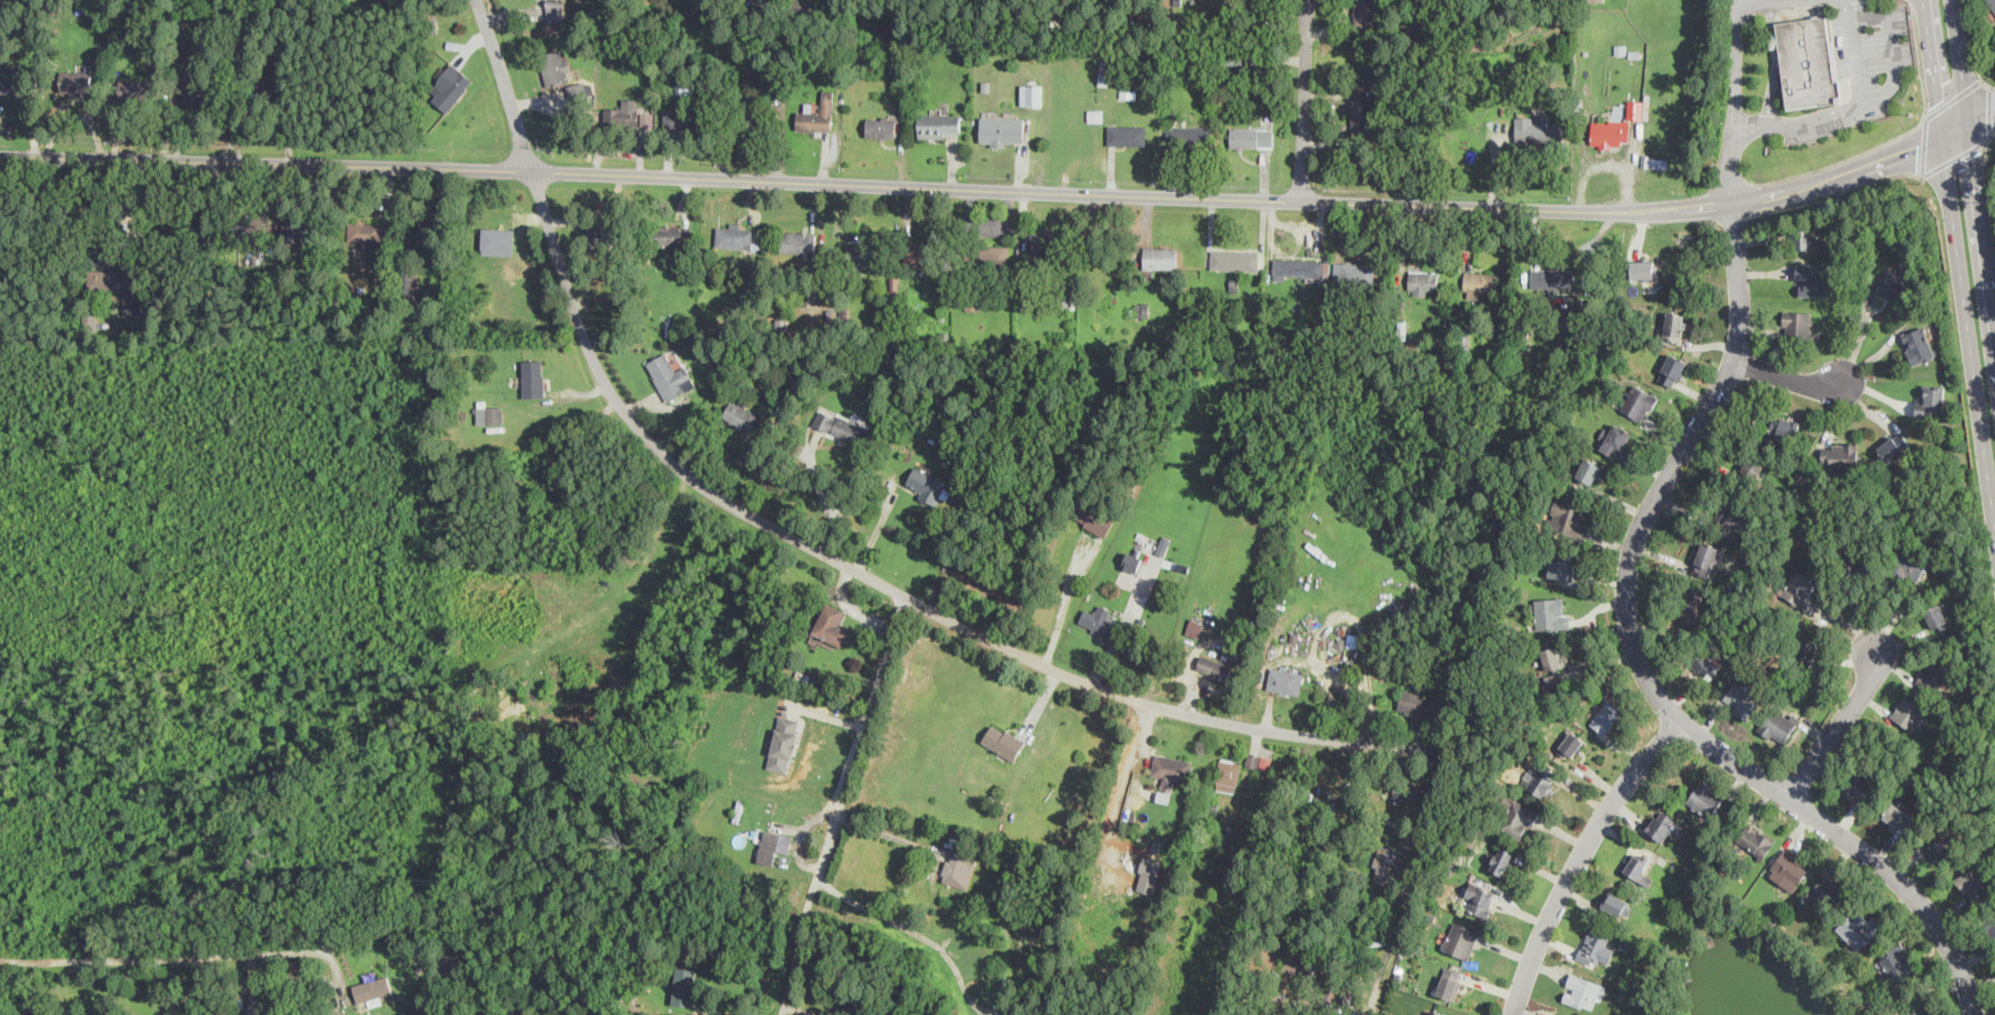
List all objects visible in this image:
building: (1597, 0)
road: (1910, 1)
road: (1759, 3)
building: (1991, 4)
road: (1849, 8)
building: (555, 10)
building: (1364, 12)
building: (192, 23)
road: (1968, 40)
road: (1919, 60)
building: (1807, 62)
road: (1776, 64)
building: (556, 67)
building: (1104, 69)
road: (1895, 70)
building: (77, 80)
road: (1988, 84)
building: (15, 86)
building: (450, 86)
building: (136, 88)
building: (198, 90)
building: (577, 91)
building: (1031, 94)
road: (1953, 98)
road: (1302, 99)
traffic signals: (1939, 100)
road: (1733, 101)
building: (1635, 109)
road: (1990, 111)
building: (627, 114)
building: (817, 114)
building: (1095, 114)
building: (1360, 116)
road: (1982, 117)
building: (679, 120)
building: (753, 121)
building: (939, 125)
building: (881, 126)
building: (1002, 130)
building: (1535, 130)
building: (1610, 132)
building: (1188, 133)
building: (1126, 135)
building: (1252, 137)
traffic signals: (1918, 146)
road: (1923, 147)
road: (1974, 153)
traffic signals: (1975, 154)
road: (1954, 158)
road: (1841, 161)
road: (1988, 176)
road: (992, 189)
road: (1833, 192)
road: (141, 210)
road: (1024, 219)
building: (300, 230)
building: (366, 234)
building: (429, 234)
building: (672, 234)
building: (600, 235)
building: (734, 235)
building: (1804, 238)
building: (498, 241)
building: (798, 242)
building: (1046, 251)
building: (862, 255)
building: (919, 255)
building: (990, 255)
building: (1160, 257)
road: (1960, 257)
building: (1235, 260)
building: (1297, 268)
building: (1643, 269)
building: (1356, 271)
building: (105, 278)
building: (1552, 278)
building: (1811, 279)
building: (1424, 282)
building: (1481, 282)
building: (894, 283)
building: (1894, 284)
building: (1066, 298)
building: (132, 299)
building: (1568, 317)
building: (89, 320)
building: (1073, 321)
building: (1796, 324)
building: (1674, 326)
building: (1061, 334)
building: (1917, 344)
building: (1672, 369)
building: (671, 376)
road: (1793, 377)
building: (534, 378)
building: (1930, 400)
building: (1638, 403)
building: (489, 414)
building: (740, 416)
building: (842, 427)
building: (1783, 428)
building: (1616, 439)
building: (1893, 446)
building: (1839, 455)
building: (1751, 467)
building: (1588, 471)
building: (928, 485)
road: (826, 502)
building: (1728, 514)
building: (1092, 517)
building: (1567, 517)
road: (812, 547)
building: (1706, 558)
building: (1853, 561)
building: (1131, 562)
building: (1561, 564)
building: (1908, 565)
building: (1799, 589)
road: (1064, 601)
building: (1689, 608)
building: (1552, 614)
building: (1937, 617)
building: (1097, 620)
building: (831, 624)
building: (1194, 626)
building: (1806, 648)
building: (1552, 656)
building: (1702, 662)
road: (1642, 666)
building: (1214, 667)
building: (1935, 673)
building: (1284, 679)
building: (1740, 700)
building: (1415, 703)
building: (1910, 713)
building: (1606, 716)
road: (1843, 720)
building: (1778, 724)
building: (1003, 741)
building: (784, 743)
building: (1571, 744)
building: (1257, 761)
building: (1170, 769)
building: (1228, 775)
building: (1539, 781)
road: (1120, 787)
building: (1858, 787)
building: (1409, 792)
building: (1705, 798)
road: (837, 804)
building: (1898, 815)
building: (1518, 817)
building: (1661, 824)
road: (885, 832)
building: (1755, 840)
building: (772, 845)
building: (1941, 851)
road: (1580, 857)
building: (1501, 860)
building: (1385, 864)
building: (958, 867)
building: (1638, 867)
building: (1788, 870)
building: (1150, 874)
building: (1972, 885)
road: (1417, 886)
building: (1826, 889)
building: (1480, 898)
building: (1614, 903)
building: (1990, 925)
road: (907, 928)
building: (1859, 928)
building: (1460, 939)
building: (1594, 944)
building: (1026, 950)
road: (157, 955)
building: (1895, 964)
building: (1449, 982)
building: (683, 986)
building: (372, 988)
building: (1583, 991)
building: (1438, 1013)
road: (692, 1014)

